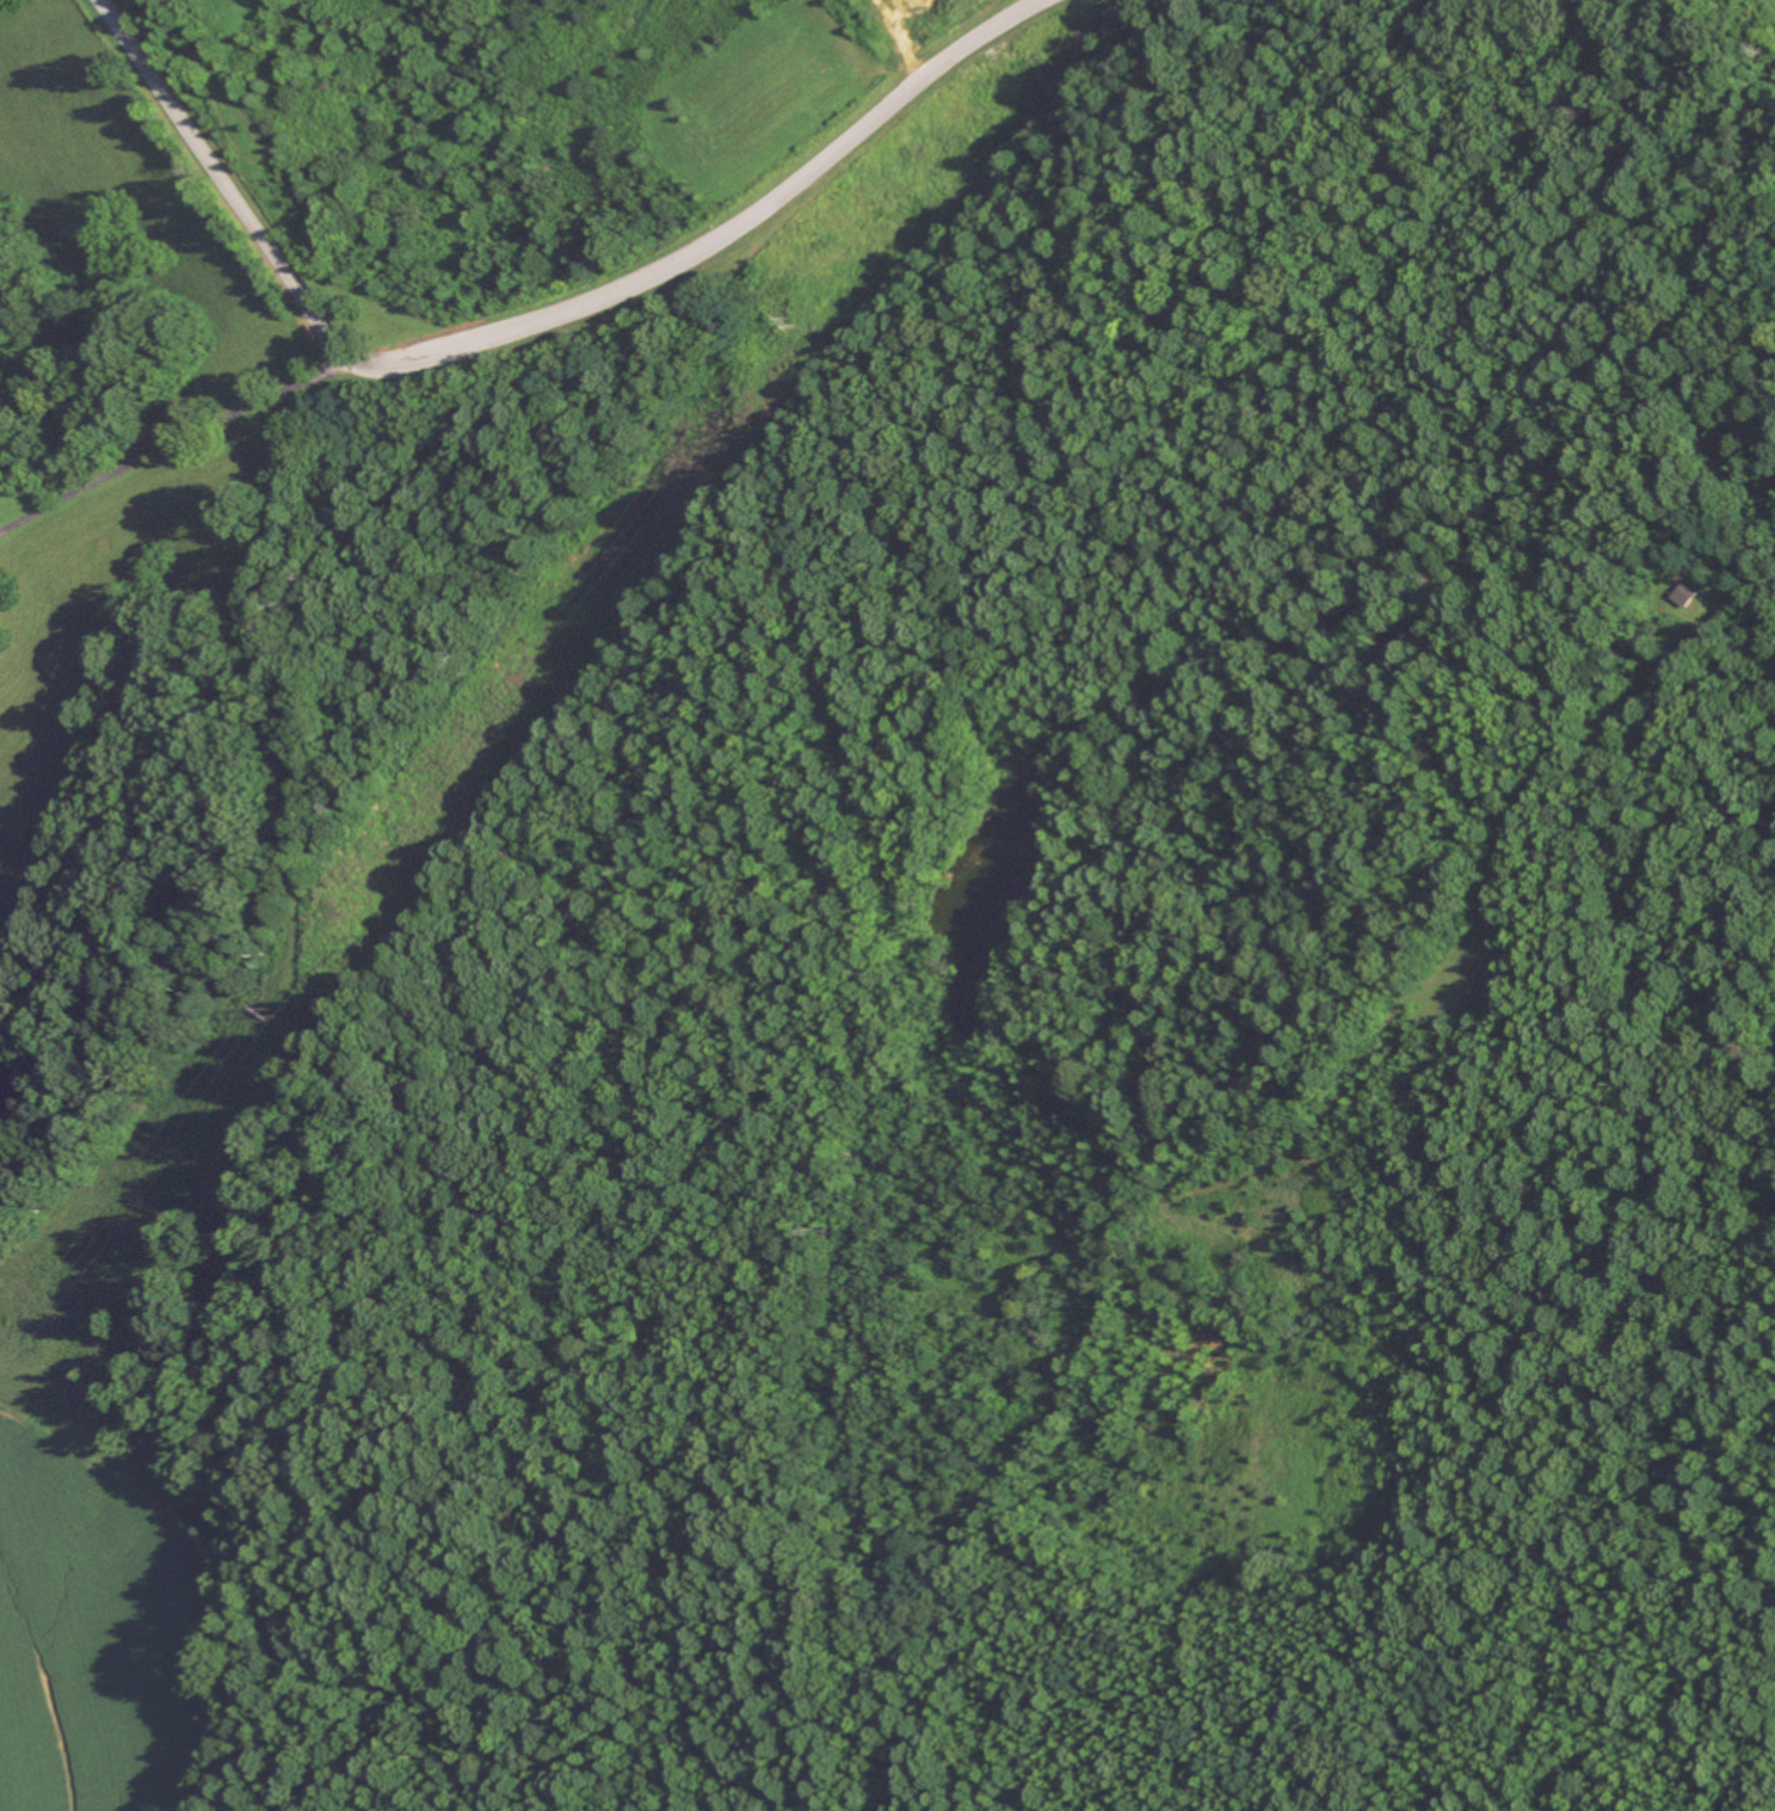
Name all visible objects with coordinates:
road: (1009, 14)
park: (374, 320)
road: (495, 331)
building: (1684, 595)

